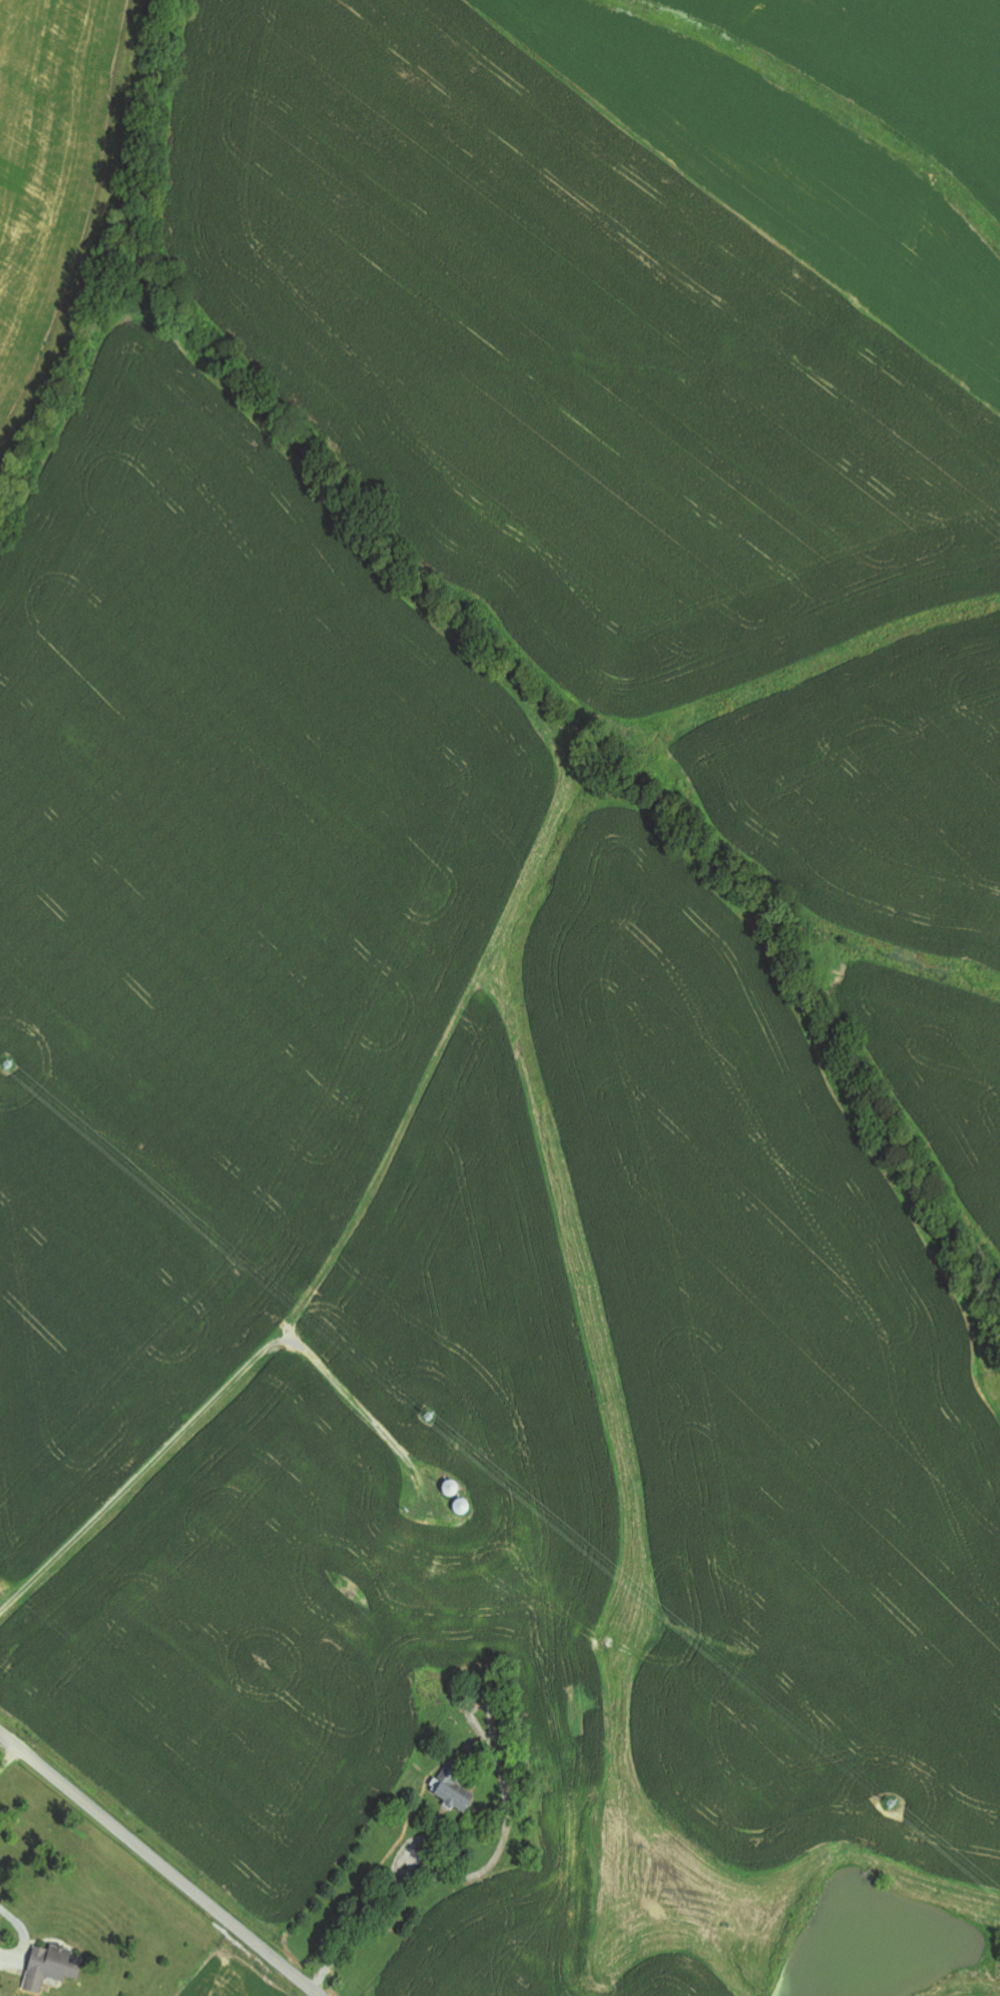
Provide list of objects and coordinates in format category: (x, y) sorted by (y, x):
building: (454, 1788)
road: (161, 1862)
building: (55, 1967)

